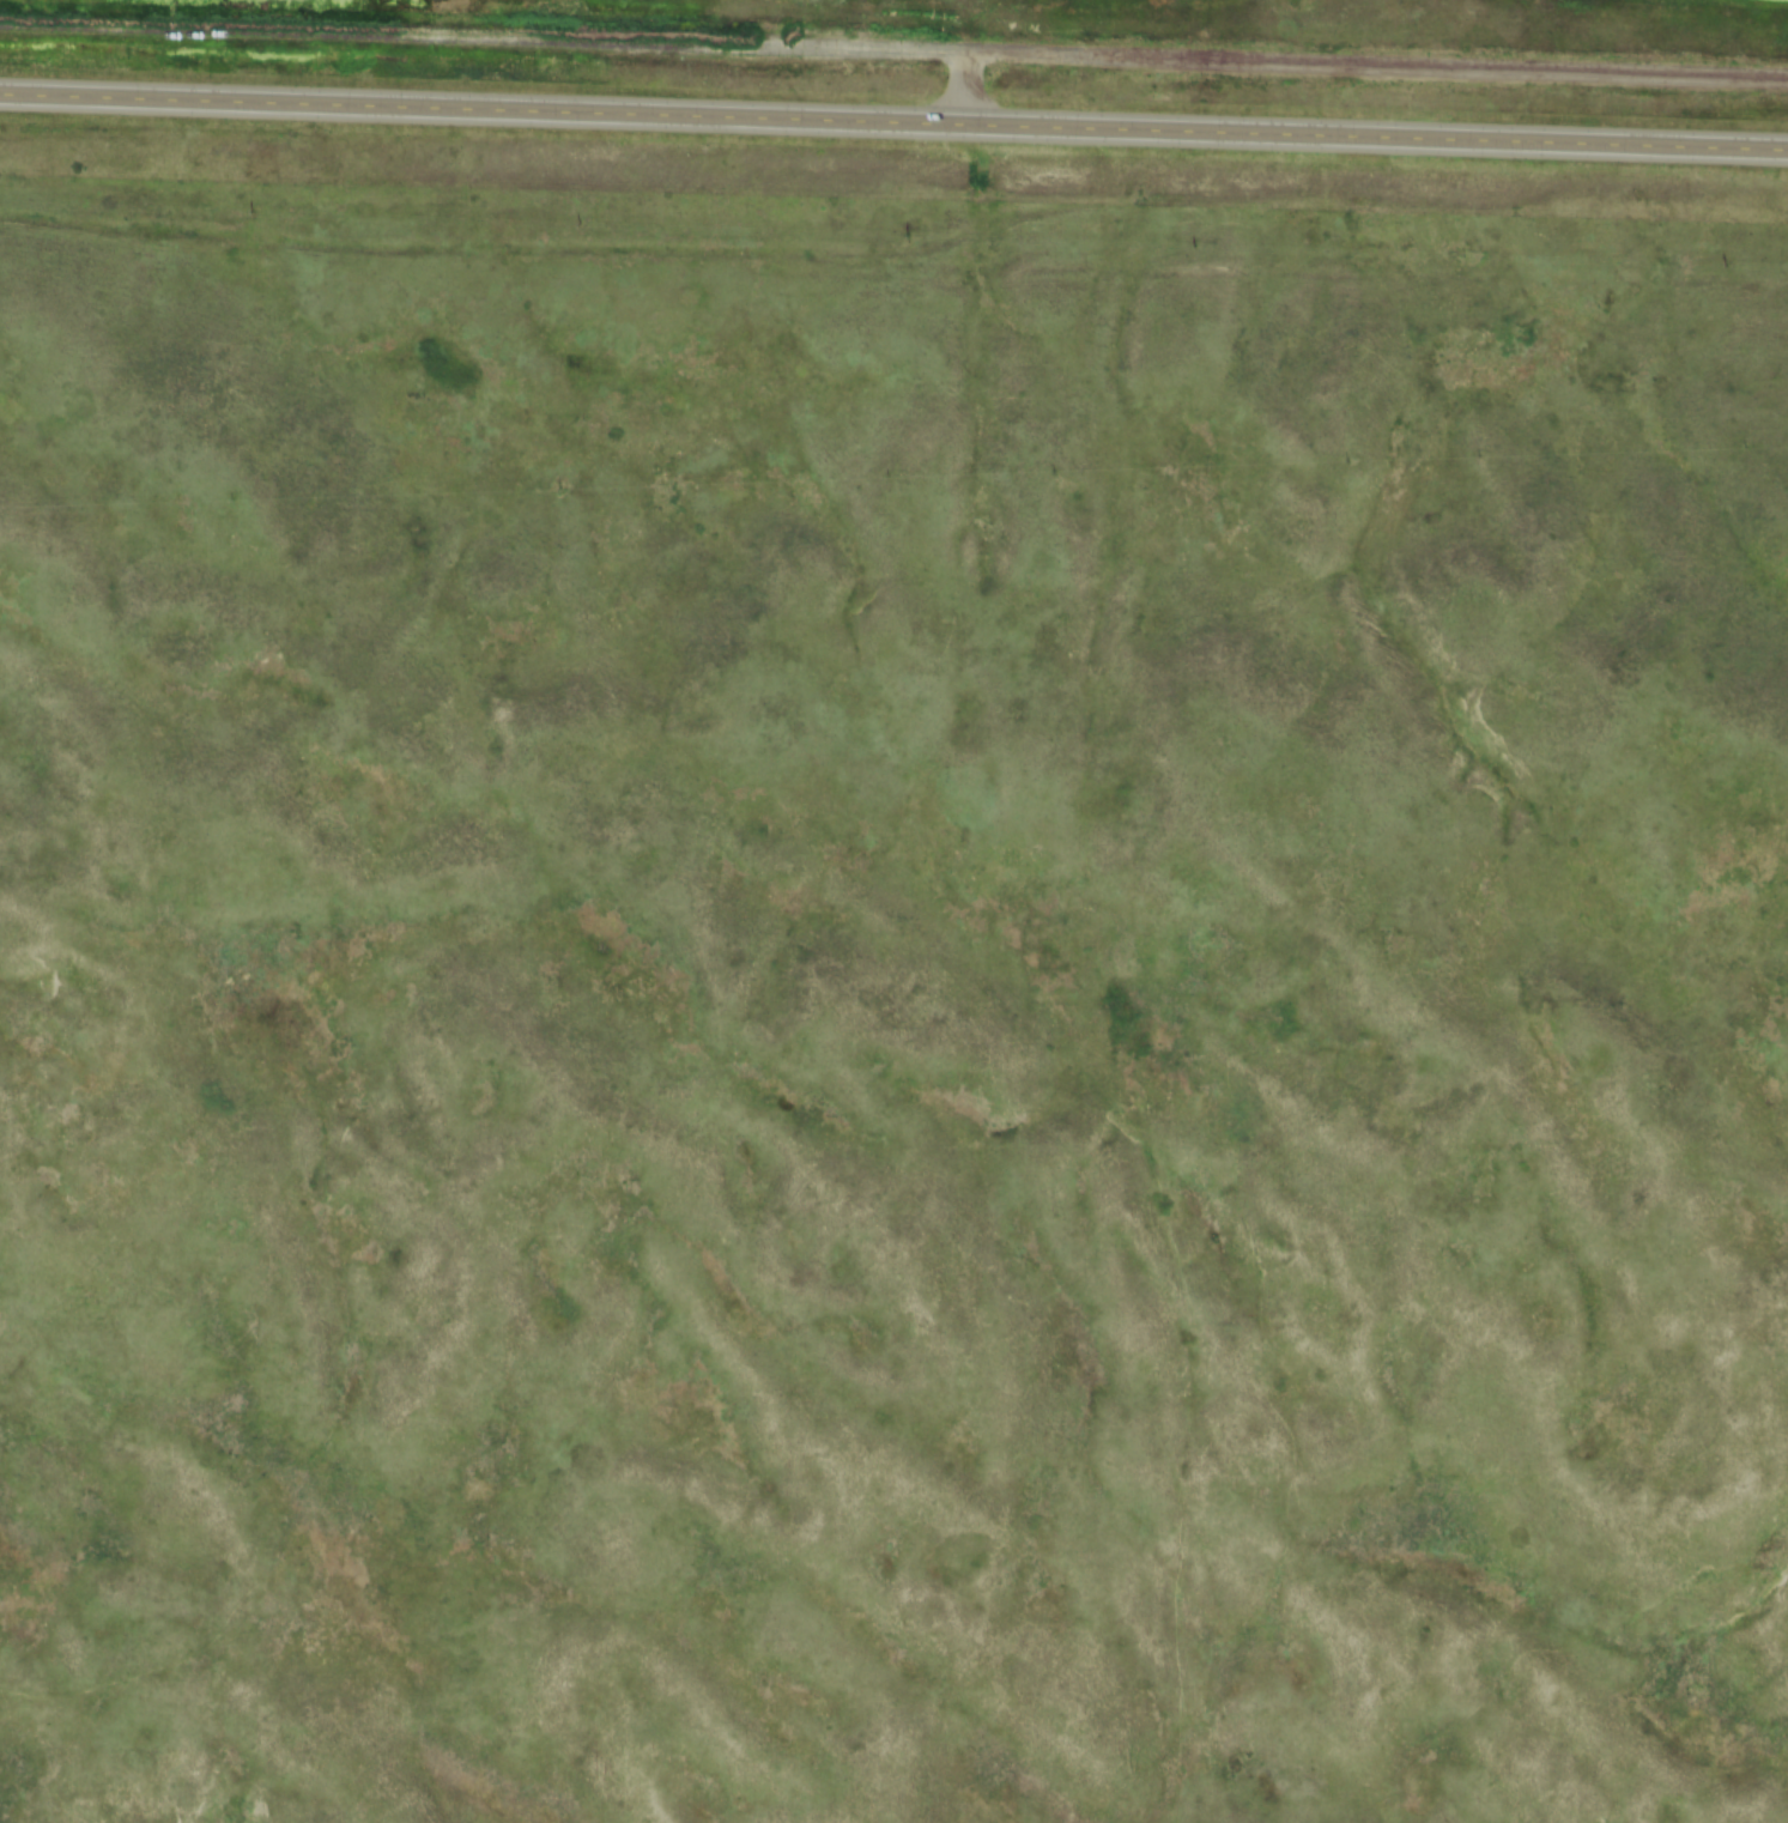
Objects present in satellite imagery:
road: (893, 50)
road: (893, 117)

